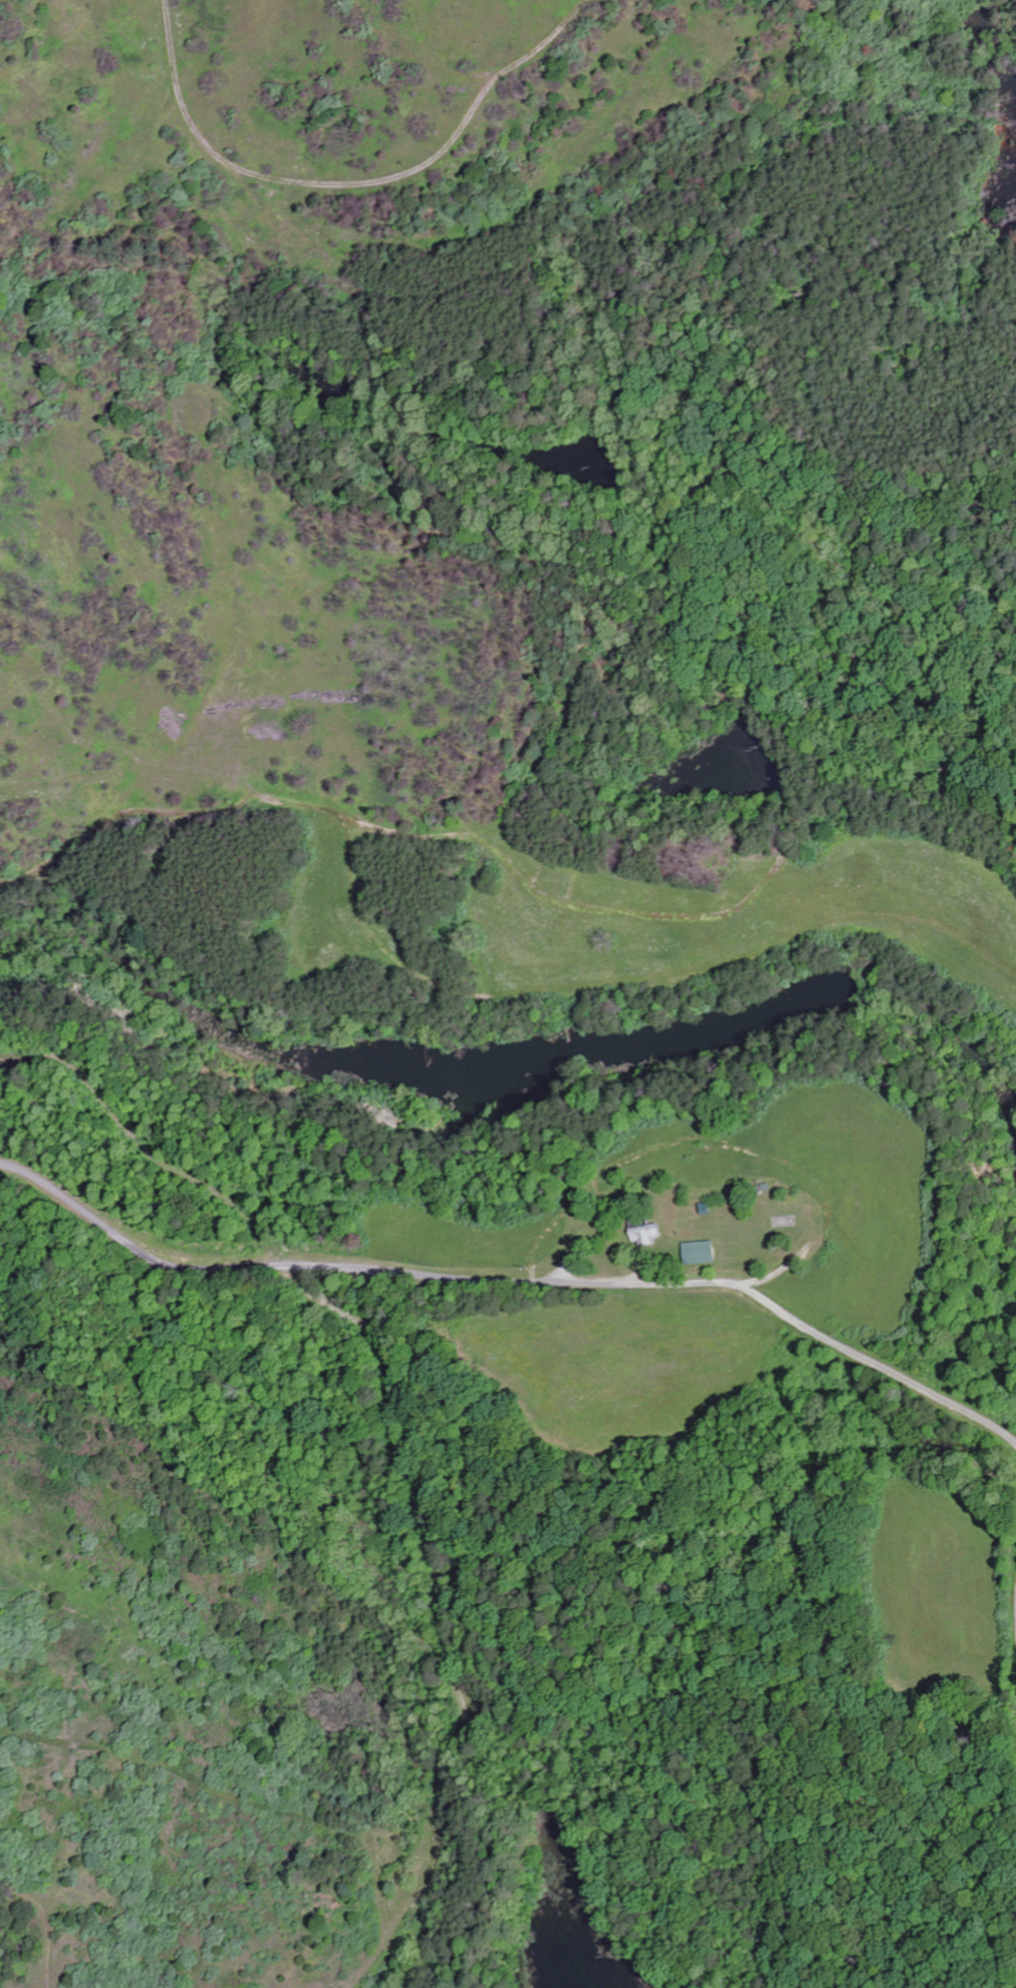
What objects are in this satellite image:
road: (356, 185)
building: (695, 1254)
road: (513, 1281)
road: (441, 1611)
road: (40, 1924)

